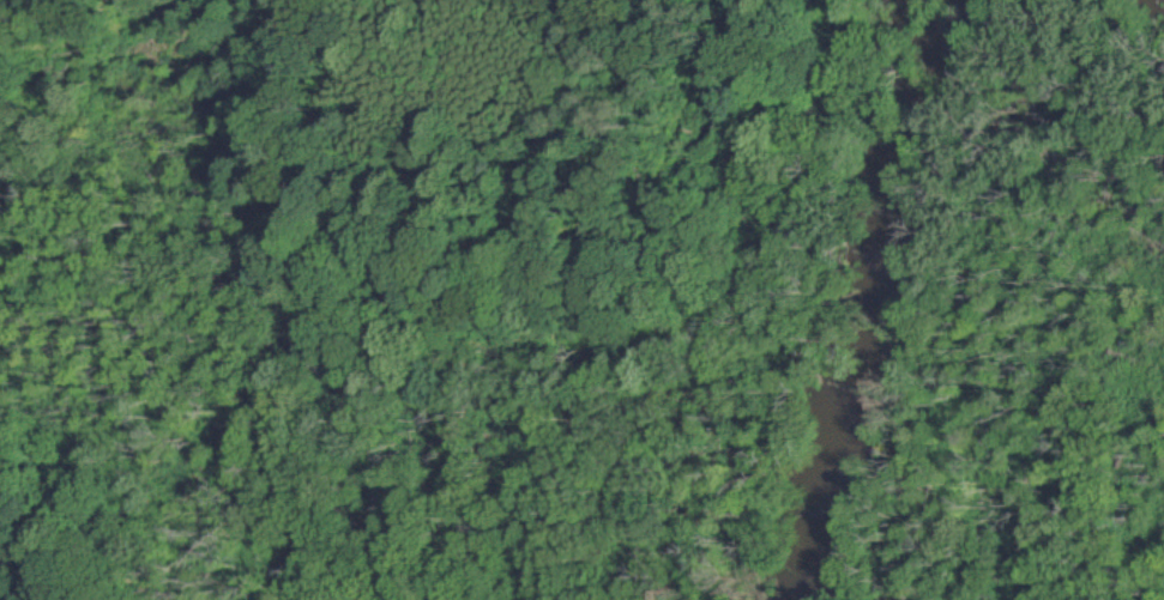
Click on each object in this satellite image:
river: (881, 293)

